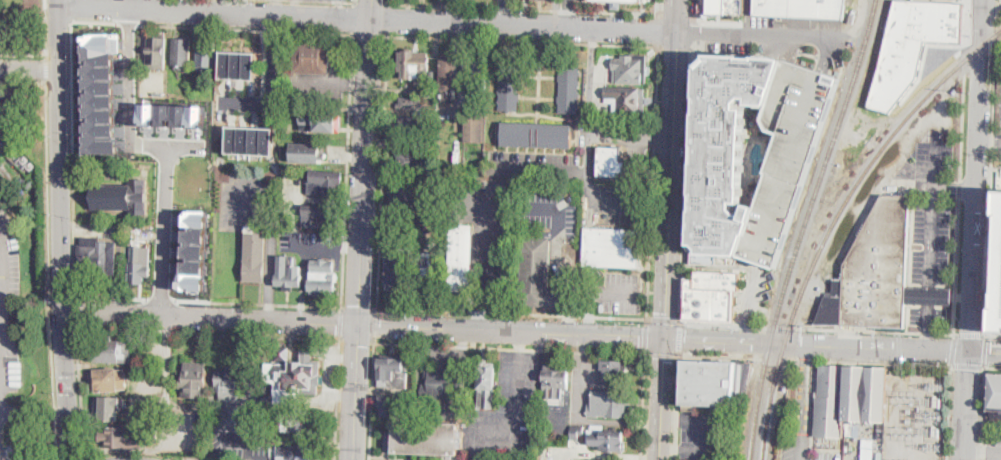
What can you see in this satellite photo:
building: (546, 0)
road: (333, 1)
road: (355, 1)
road: (388, 1)
road: (371, 2)
road: (569, 2)
building: (616, 3)
road: (144, 5)
road: (660, 7)
building: (721, 7)
road: (693, 8)
building: (801, 8)
road: (523, 9)
road: (71, 10)
road: (508, 12)
road: (676, 15)
road: (568, 16)
road: (676, 16)
road: (354, 17)
road: (388, 19)
road: (367, 20)
parking lot: (794, 25)
road: (45, 27)
road: (211, 27)
road: (659, 29)
road: (692, 32)
road: (370, 34)
road: (762, 36)
road: (523, 40)
parking lot: (727, 43)
building: (912, 46)
road: (674, 47)
road: (23, 53)
building: (181, 53)
building: (157, 54)
building: (206, 54)
road: (826, 54)
building: (313, 57)
building: (239, 66)
building: (415, 66)
road: (46, 67)
building: (630, 68)
road: (29, 70)
building: (476, 73)
road: (131, 76)
building: (448, 76)
road: (22, 79)
road: (591, 81)
building: (509, 87)
building: (569, 90)
building: (100, 92)
building: (158, 93)
building: (626, 99)
building: (411, 103)
building: (431, 112)
building: (173, 116)
building: (13, 118)
building: (322, 121)
building: (409, 126)
parking lot: (999, 127)
building: (473, 128)
building: (440, 133)
road: (612, 133)
building: (537, 135)
road: (988, 140)
building: (251, 141)
road: (168, 144)
building: (433, 144)
building: (726, 151)
building: (308, 153)
road: (671, 153)
road: (59, 155)
road: (72, 156)
building: (791, 156)
parking lot: (791, 156)
building: (451, 158)
road: (365, 160)
building: (410, 160)
building: (433, 160)
building: (612, 163)
building: (6, 164)
building: (26, 165)
road: (961, 167)
road: (991, 169)
road: (346, 170)
road: (544, 171)
road: (382, 172)
road: (976, 175)
road: (653, 181)
building: (31, 182)
building: (325, 182)
building: (458, 184)
road: (684, 184)
building: (433, 186)
building: (409, 192)
building: (122, 197)
parking lot: (612, 197)
road: (597, 200)
road: (558, 205)
road: (241, 206)
building: (440, 206)
parking lot: (489, 207)
parking lot: (549, 212)
building: (320, 217)
railway: (837, 220)
building: (147, 221)
railway: (804, 227)
road: (162, 228)
parking lot: (931, 229)
road: (321, 244)
road: (352, 245)
road: (931, 245)
building: (612, 248)
building: (195, 249)
building: (255, 255)
building: (97, 257)
building: (462, 258)
road: (477, 263)
building: (140, 265)
road: (269, 267)
road: (984, 267)
road: (49, 269)
building: (399, 269)
building: (501, 269)
building: (431, 272)
building: (997, 272)
parking garage: (997, 272)
building: (288, 274)
building: (536, 274)
building: (879, 274)
building: (323, 277)
road: (569, 285)
parking lot: (621, 293)
road: (595, 295)
building: (711, 297)
road: (207, 300)
road: (748, 301)
parking lot: (9, 303)
road: (664, 306)
road: (358, 307)
road: (74, 309)
road: (512, 312)
road: (209, 315)
road: (664, 320)
road: (339, 322)
road: (1, 323)
road: (375, 324)
road: (510, 329)
road: (817, 329)
road: (207, 332)
road: (646, 335)
road: (969, 335)
road: (993, 337)
road: (357, 339)
traffic signals: (663, 339)
road: (678, 339)
road: (521, 340)
road: (581, 343)
road: (816, 345)
road: (510, 347)
road: (952, 349)
building: (110, 350)
road: (805, 351)
road: (984, 351)
road: (985, 351)
building: (283, 352)
road: (661, 355)
road: (738, 359)
road: (804, 362)
road: (880, 363)
road: (967, 365)
road: (992, 367)
building: (393, 371)
building: (615, 371)
building: (105, 379)
building: (295, 379)
building: (194, 380)
building: (556, 383)
building: (708, 383)
building: (229, 384)
building: (443, 384)
parking lot: (583, 384)
road: (66, 385)
building: (487, 385)
road: (354, 390)
road: (81, 392)
building: (995, 392)
road: (336, 398)
building: (850, 398)
road: (659, 399)
building: (264, 400)
road: (371, 400)
parking lot: (509, 403)
building: (608, 404)
building: (393, 405)
road: (967, 405)
building: (450, 407)
road: (642, 407)
building: (108, 408)
road: (676, 408)
road: (803, 408)
road: (516, 410)
road: (812, 410)
road: (33, 411)
road: (949, 412)
road: (982, 413)
power substation: (915, 414)
road: (669, 421)
building: (304, 424)
building: (850, 430)
building: (577, 432)
parking lot: (700, 436)
parking lot: (789, 436)
building: (127, 437)
building: (545, 437)
road: (707, 437)
building: (427, 438)
building: (610, 440)
building: (198, 442)
parking lot: (994, 447)
power tower: (937, 448)
building: (293, 449)
road: (668, 449)
road: (828, 450)
road: (983, 453)
parking lot: (829, 456)
road: (78, 459)
parking lot: (382, 459)
parking lot: (585, 459)
road: (806, 459)

